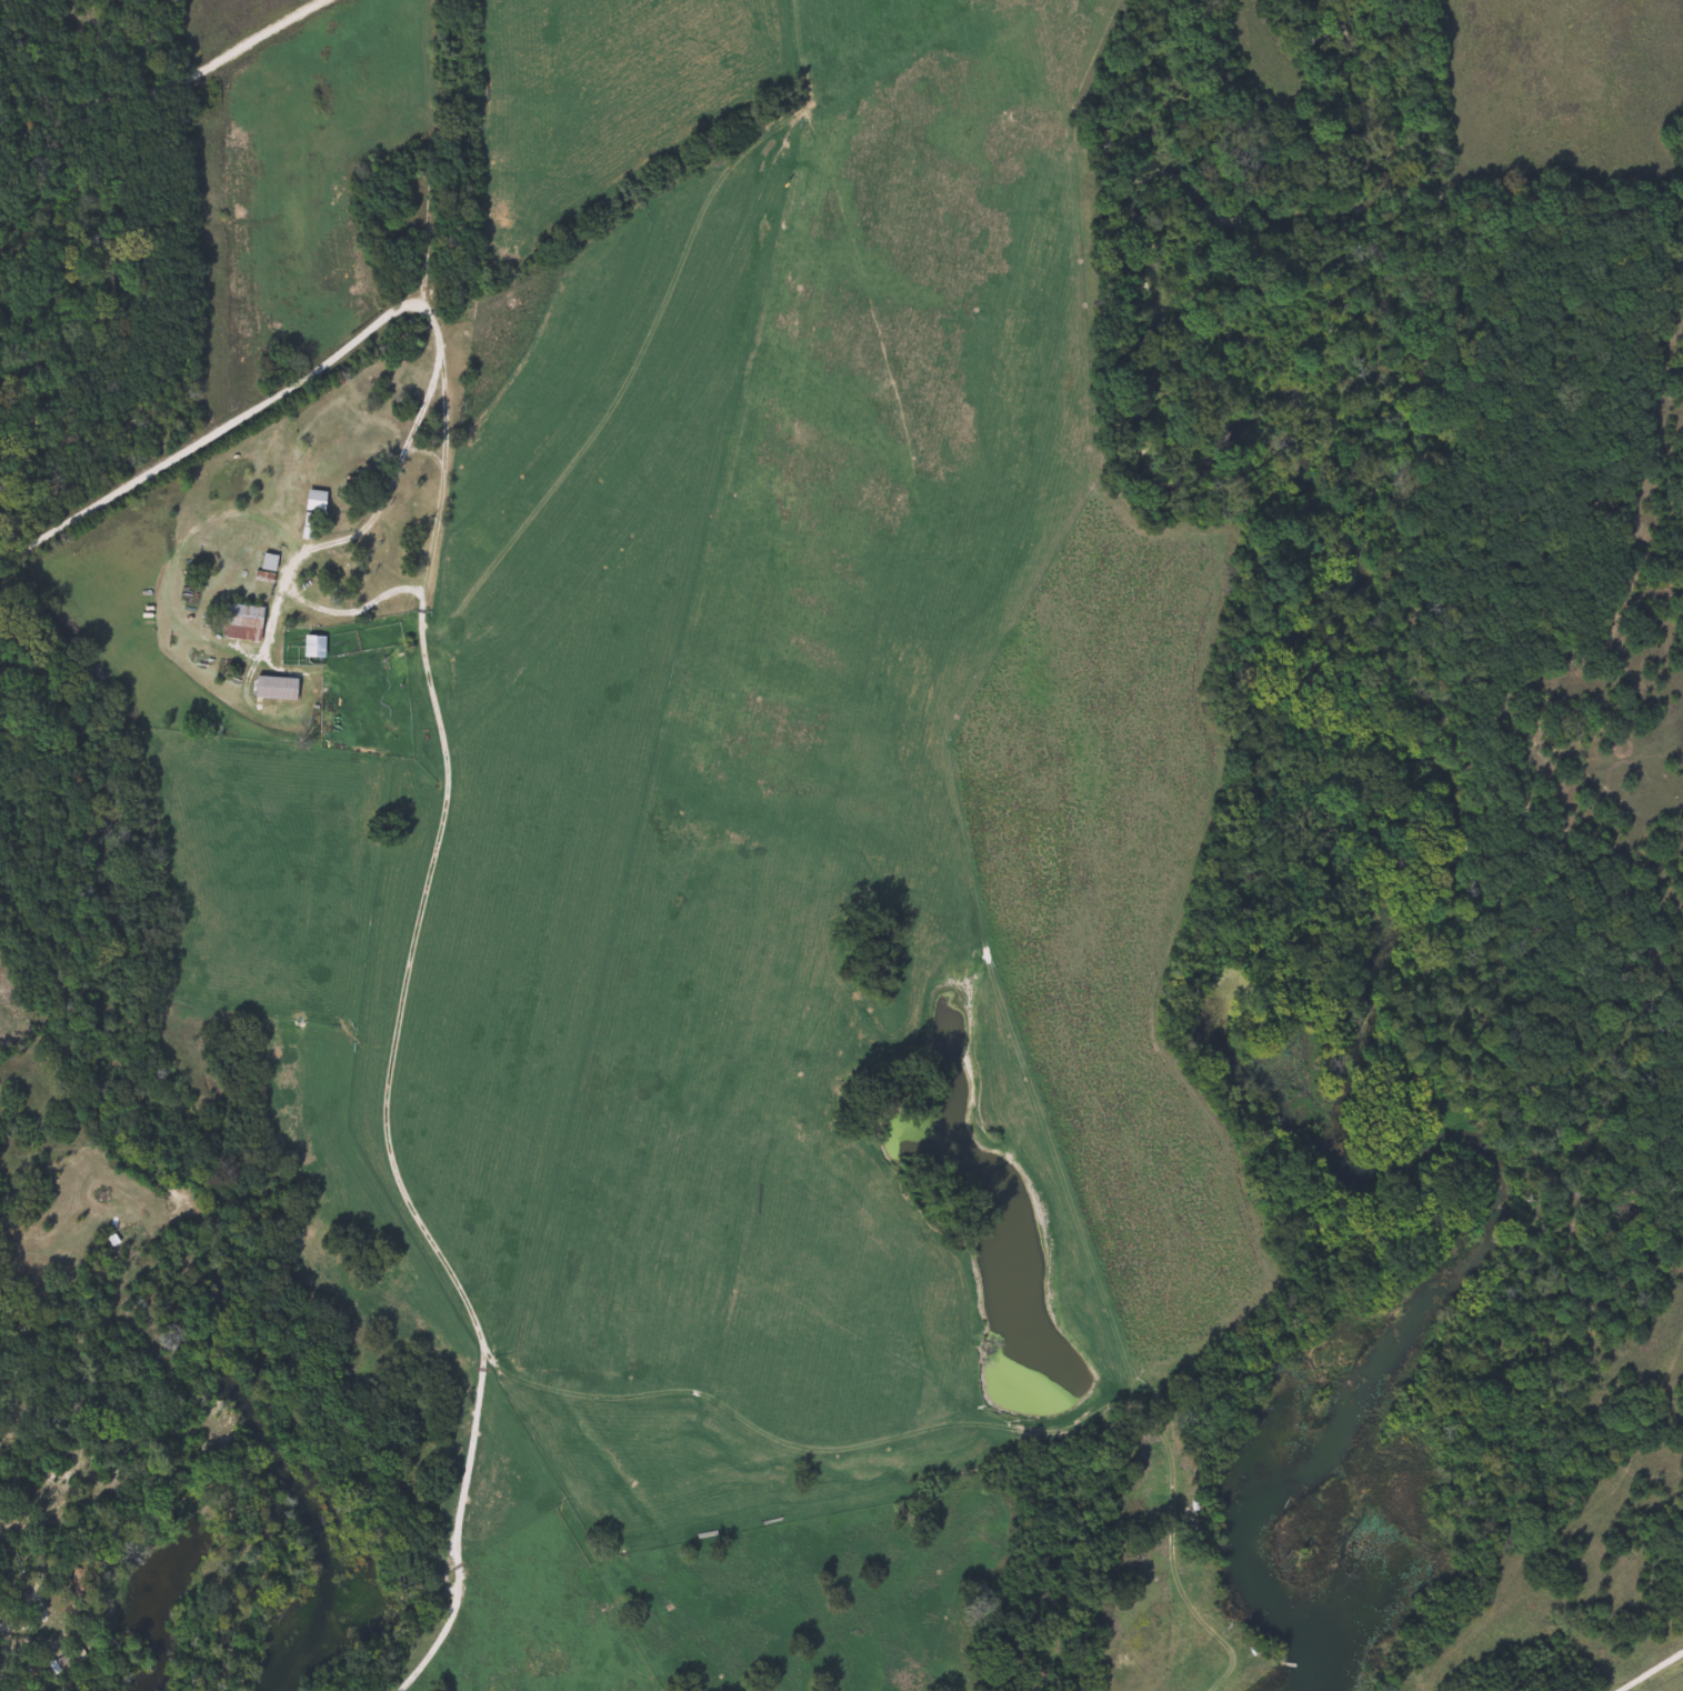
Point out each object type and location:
road: (164, 84)
road: (218, 431)
road: (430, 451)
building: (322, 500)
road: (363, 531)
road: (355, 608)
building: (249, 622)
building: (283, 688)
road: (397, 1034)
road: (1640, 1664)

